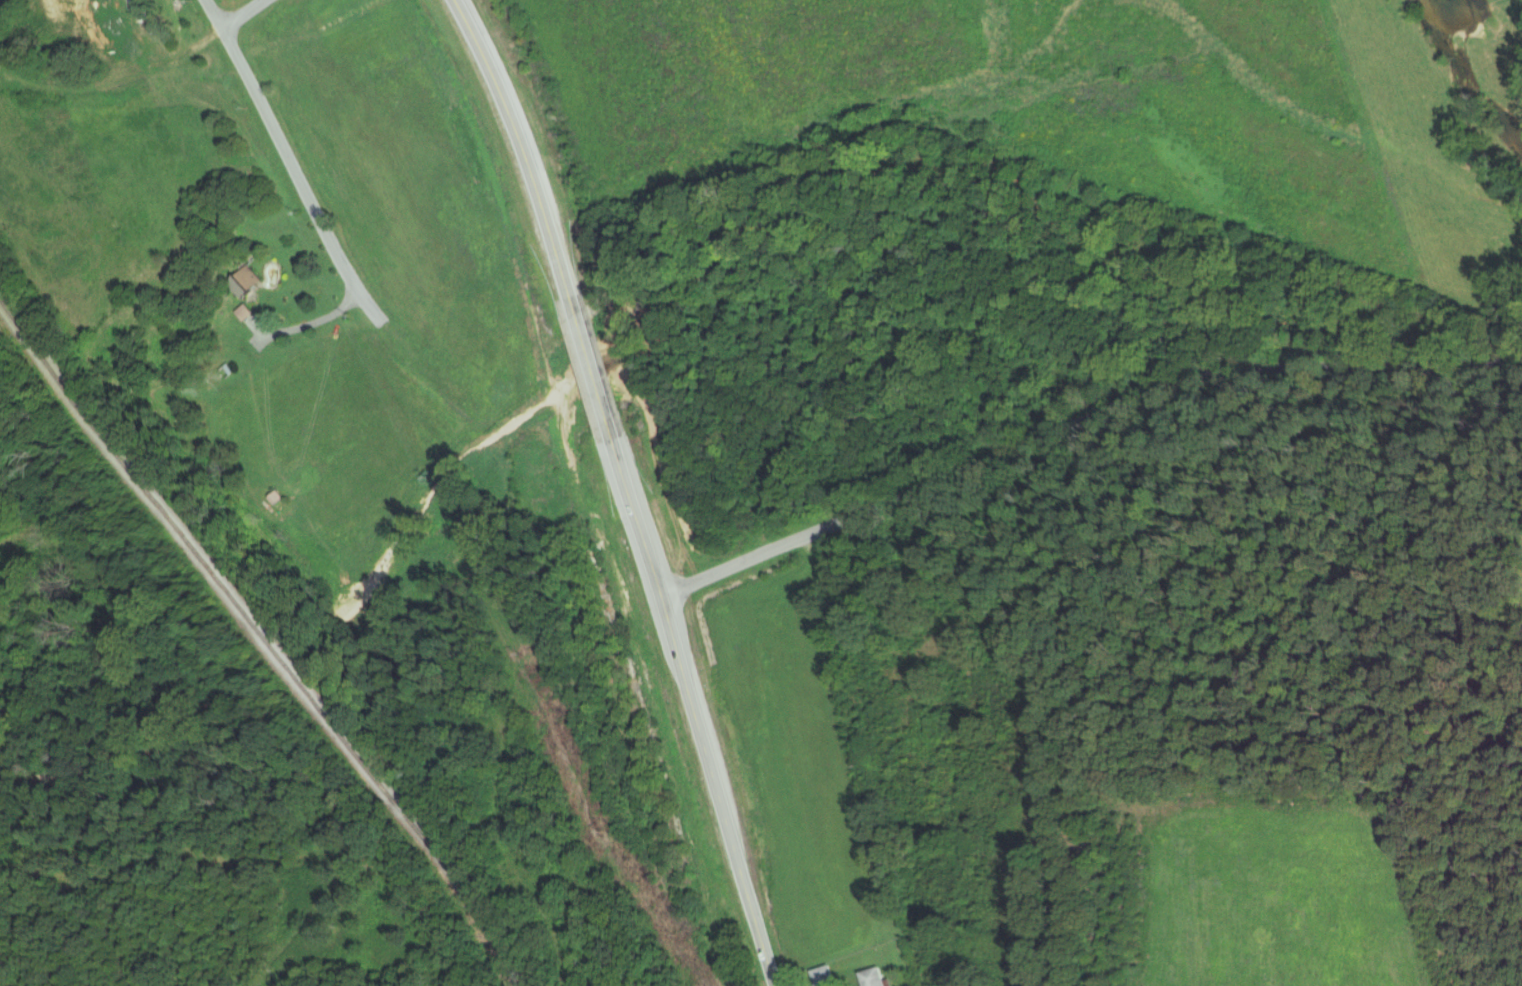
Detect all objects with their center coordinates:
road: (214, 12)
road: (240, 12)
road: (115, 77)
road: (295, 175)
building: (248, 277)
building: (242, 312)
road: (302, 323)
road: (1079, 429)
road: (627, 488)
railway: (262, 638)
building: (822, 975)
building: (873, 978)

